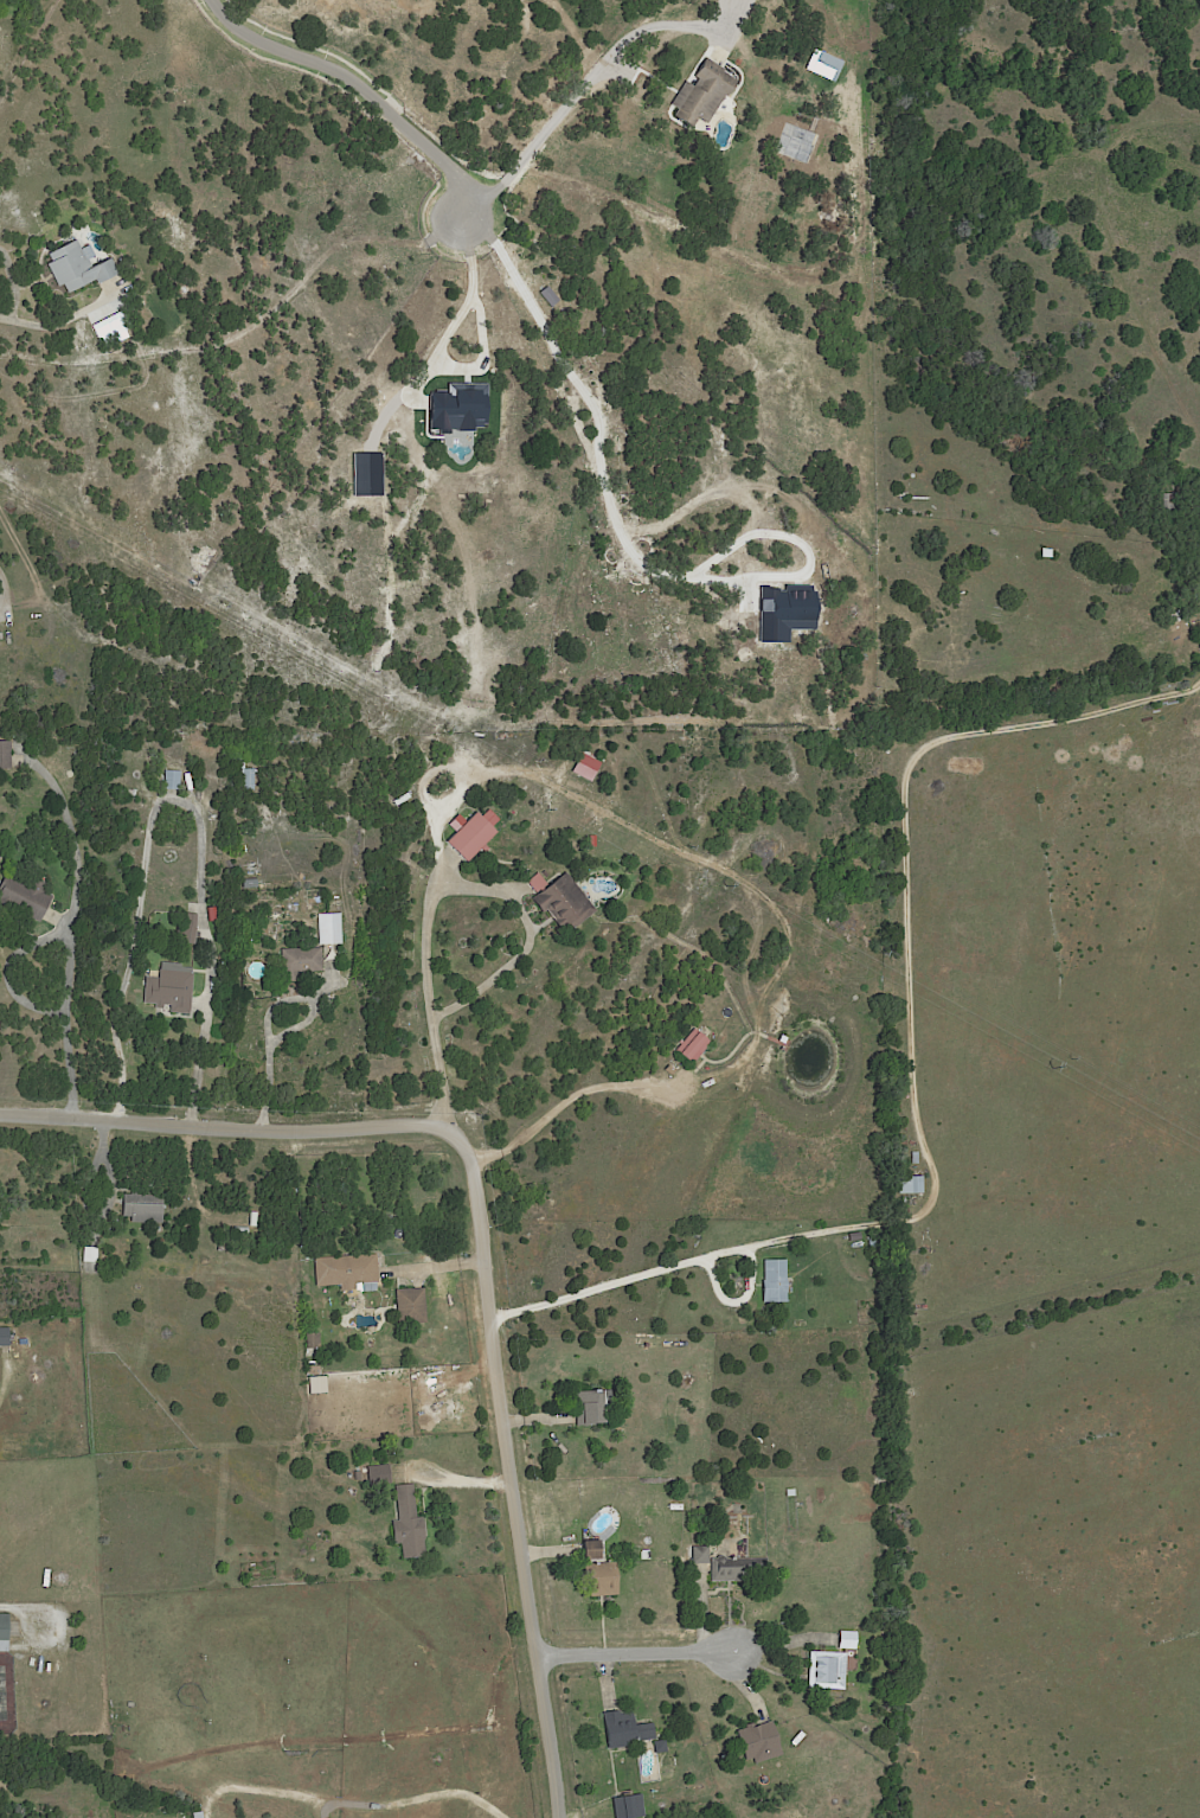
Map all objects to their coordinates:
building: (826, 65)
road: (362, 87)
building: (701, 92)
road: (583, 109)
building: (797, 142)
building: (657, 231)
building: (79, 268)
building: (795, 284)
road: (14, 286)
road: (464, 297)
road: (57, 319)
road: (602, 437)
building: (1167, 505)
building: (1046, 552)
road: (1, 593)
power tower: (224, 607)
building: (1179, 616)
power tower: (448, 731)
building: (5, 756)
building: (17, 763)
building: (248, 774)
building: (172, 779)
building: (190, 782)
road: (178, 793)
building: (471, 838)
building: (592, 840)
building: (1, 857)
road: (441, 882)
building: (248, 883)
power tower: (725, 885)
building: (27, 894)
building: (559, 897)
building: (331, 929)
building: (187, 930)
road: (71, 934)
building: (300, 961)
building: (169, 987)
building: (267, 988)
road: (297, 1024)
building: (694, 1045)
road: (917, 1065)
power tower: (1052, 1068)
road: (566, 1097)
building: (915, 1158)
building: (910, 1184)
building: (143, 1208)
building: (242, 1230)
building: (872, 1238)
road: (481, 1246)
building: (90, 1254)
building: (346, 1272)
building: (775, 1281)
building: (409, 1305)
building: (5, 1337)
building: (312, 1340)
road: (2, 1375)
building: (591, 1406)
building: (358, 1474)
building: (379, 1475)
building: (791, 1492)
building: (821, 1493)
building: (800, 1503)
building: (409, 1523)
building: (698, 1553)
building: (738, 1569)
building: (599, 1573)
road: (11, 1603)
building: (6, 1633)
building: (846, 1639)
road: (650, 1650)
building: (826, 1669)
building: (625, 1730)
building: (759, 1742)
building: (660, 1746)
road: (357, 1806)
building: (627, 1806)
building: (201, 1814)

